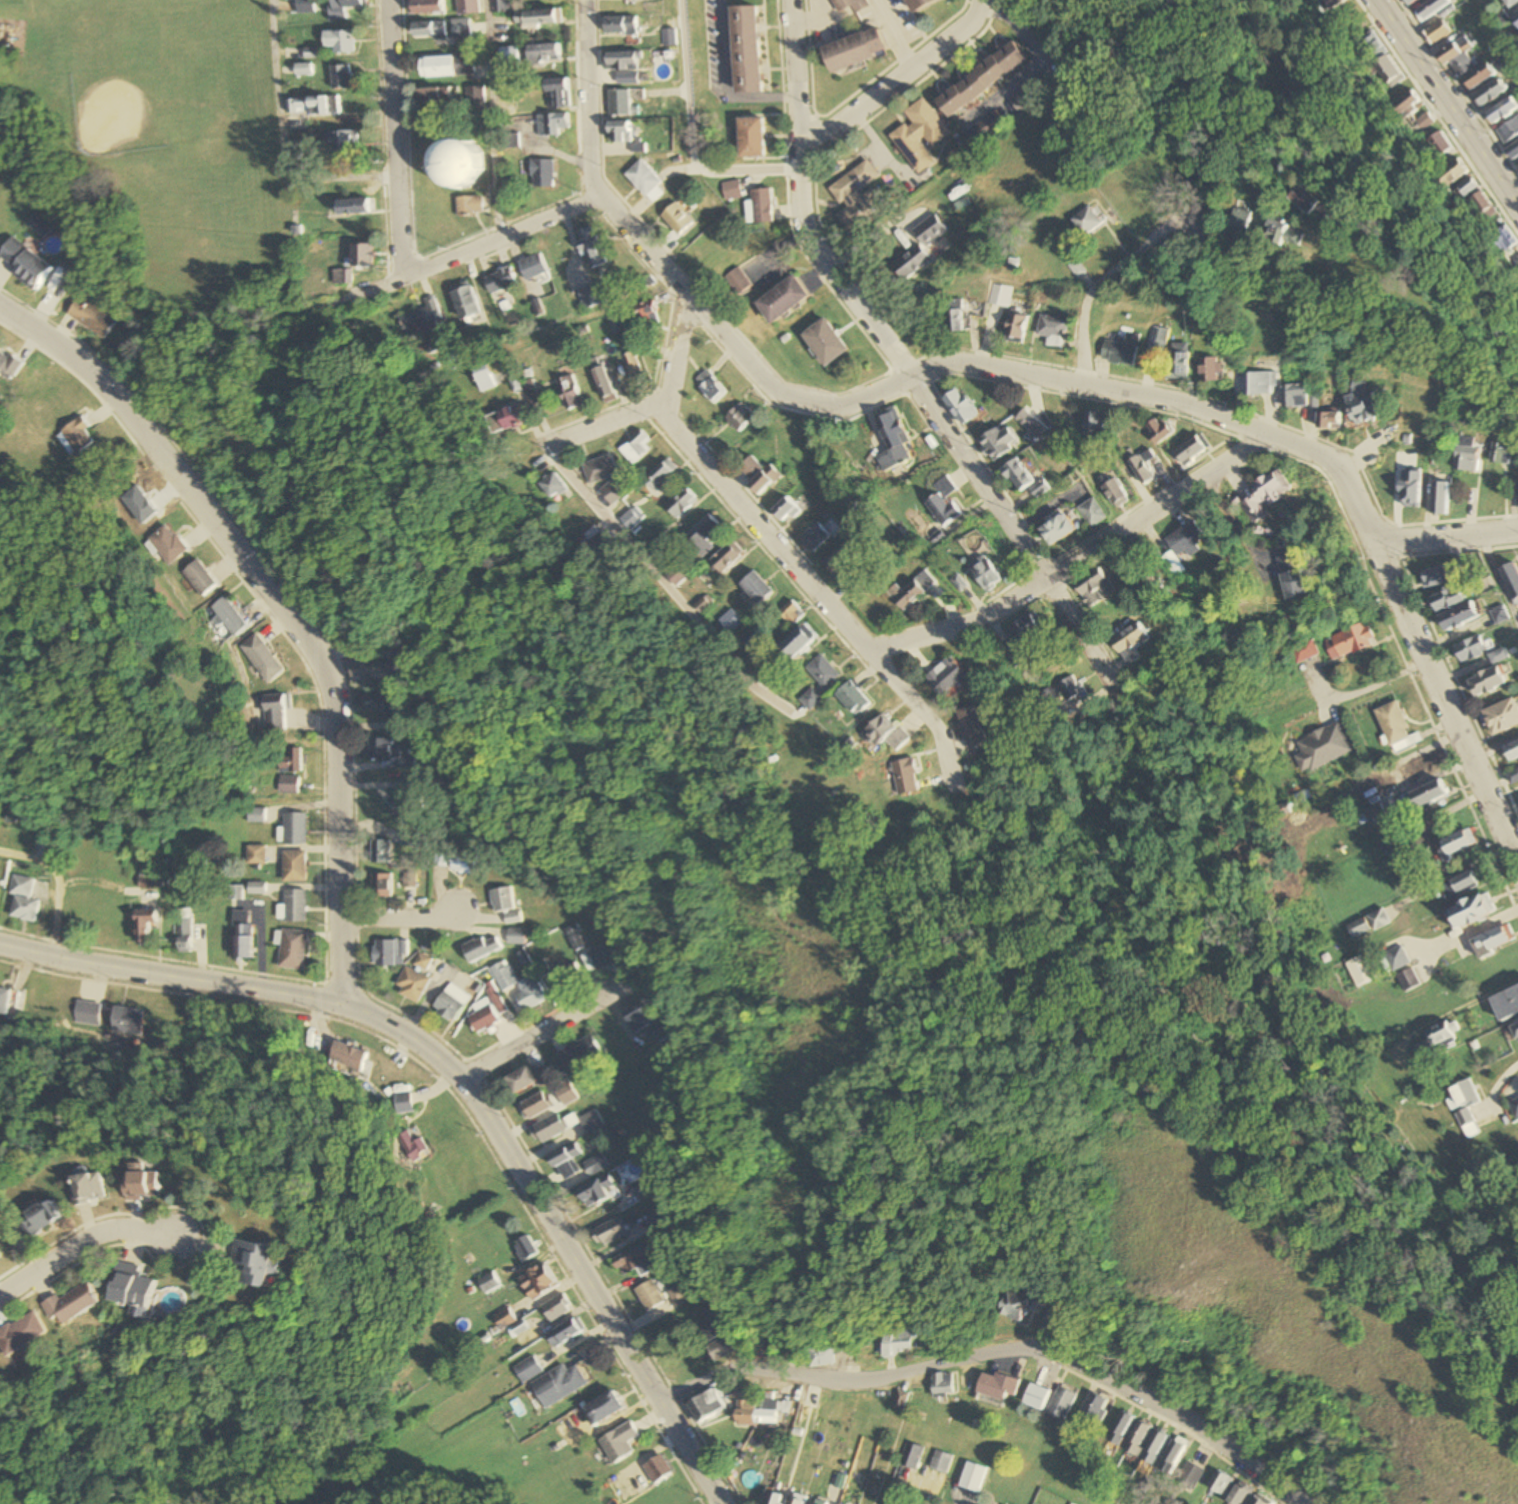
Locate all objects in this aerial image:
building: (920, 4)
road: (896, 78)
park: (133, 95)
road: (1448, 102)
road: (488, 119)
park: (160, 126)
road: (394, 133)
road: (688, 134)
road: (281, 138)
water tower: (447, 177)
road: (798, 206)
road: (501, 237)
road: (1182, 245)
road: (1091, 309)
road: (877, 395)
road: (979, 479)
road: (1233, 525)
road: (1444, 538)
road: (1072, 565)
road: (1498, 579)
road: (633, 584)
road: (814, 599)
road: (280, 605)
road: (1079, 627)
road: (1358, 692)
road: (1444, 706)
road: (1493, 747)
road: (54, 884)
road: (400, 919)
road: (870, 984)
road: (535, 1036)
road: (464, 1080)
road: (77, 1242)
road: (994, 1353)

